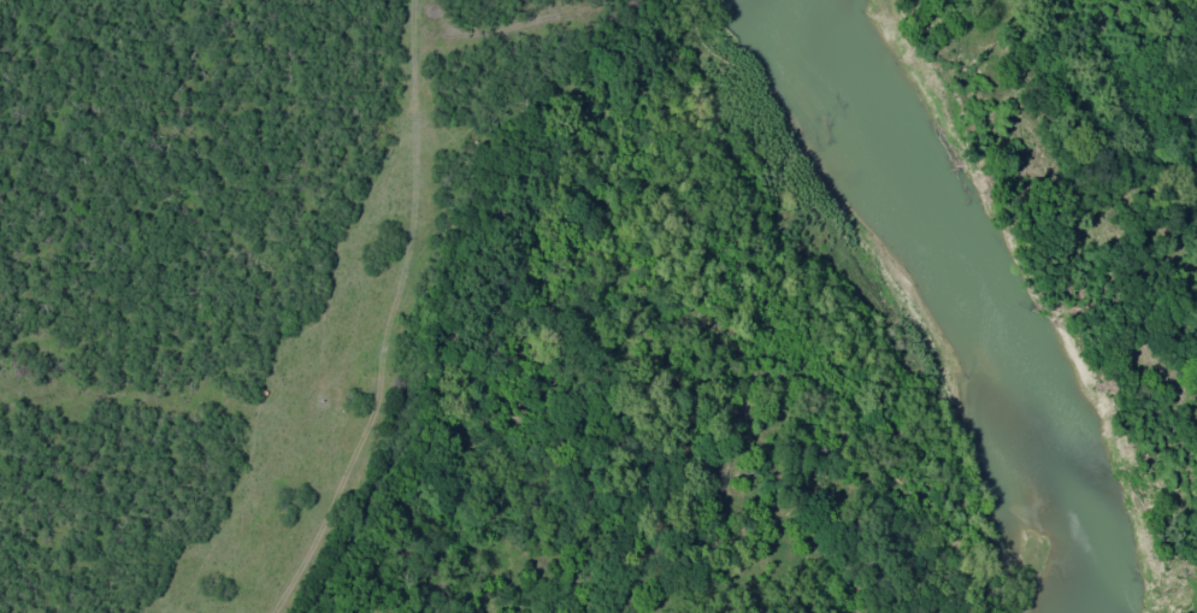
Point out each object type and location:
river: (919, 306)

